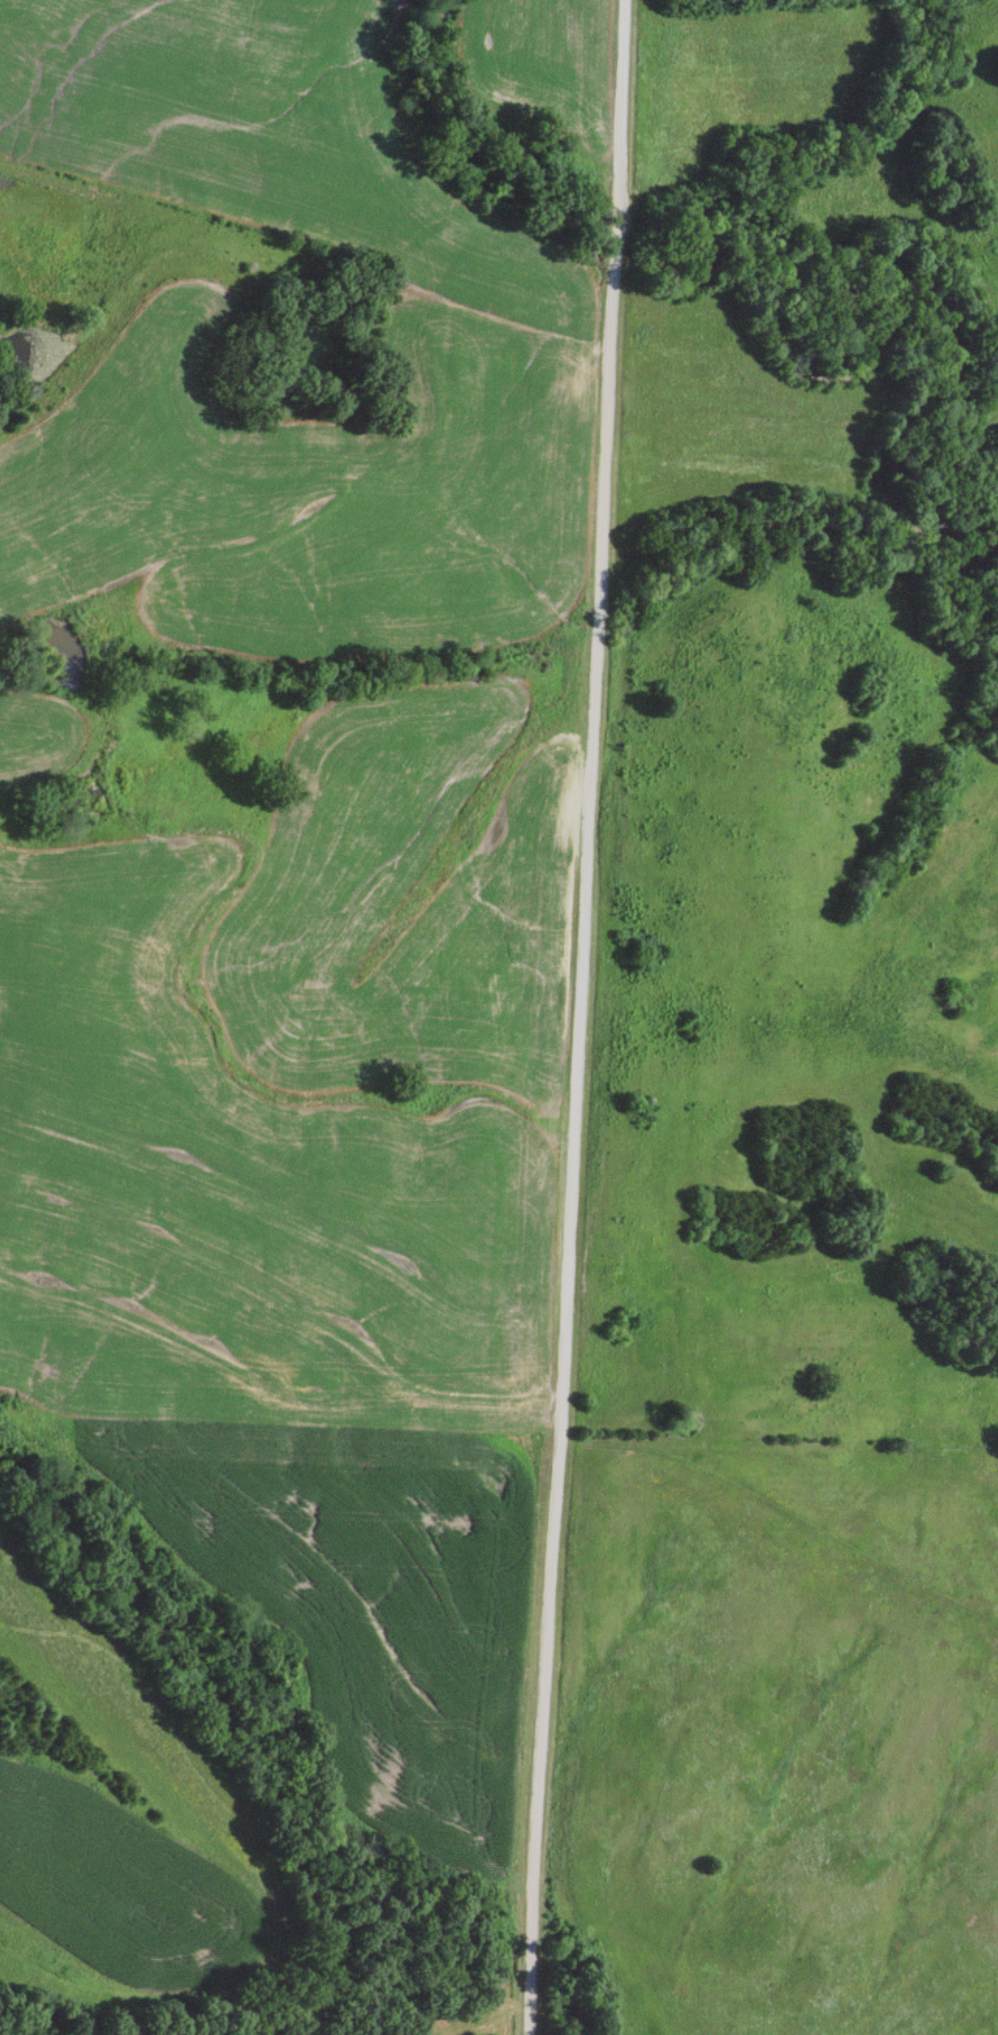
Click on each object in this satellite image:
road: (574, 1017)

